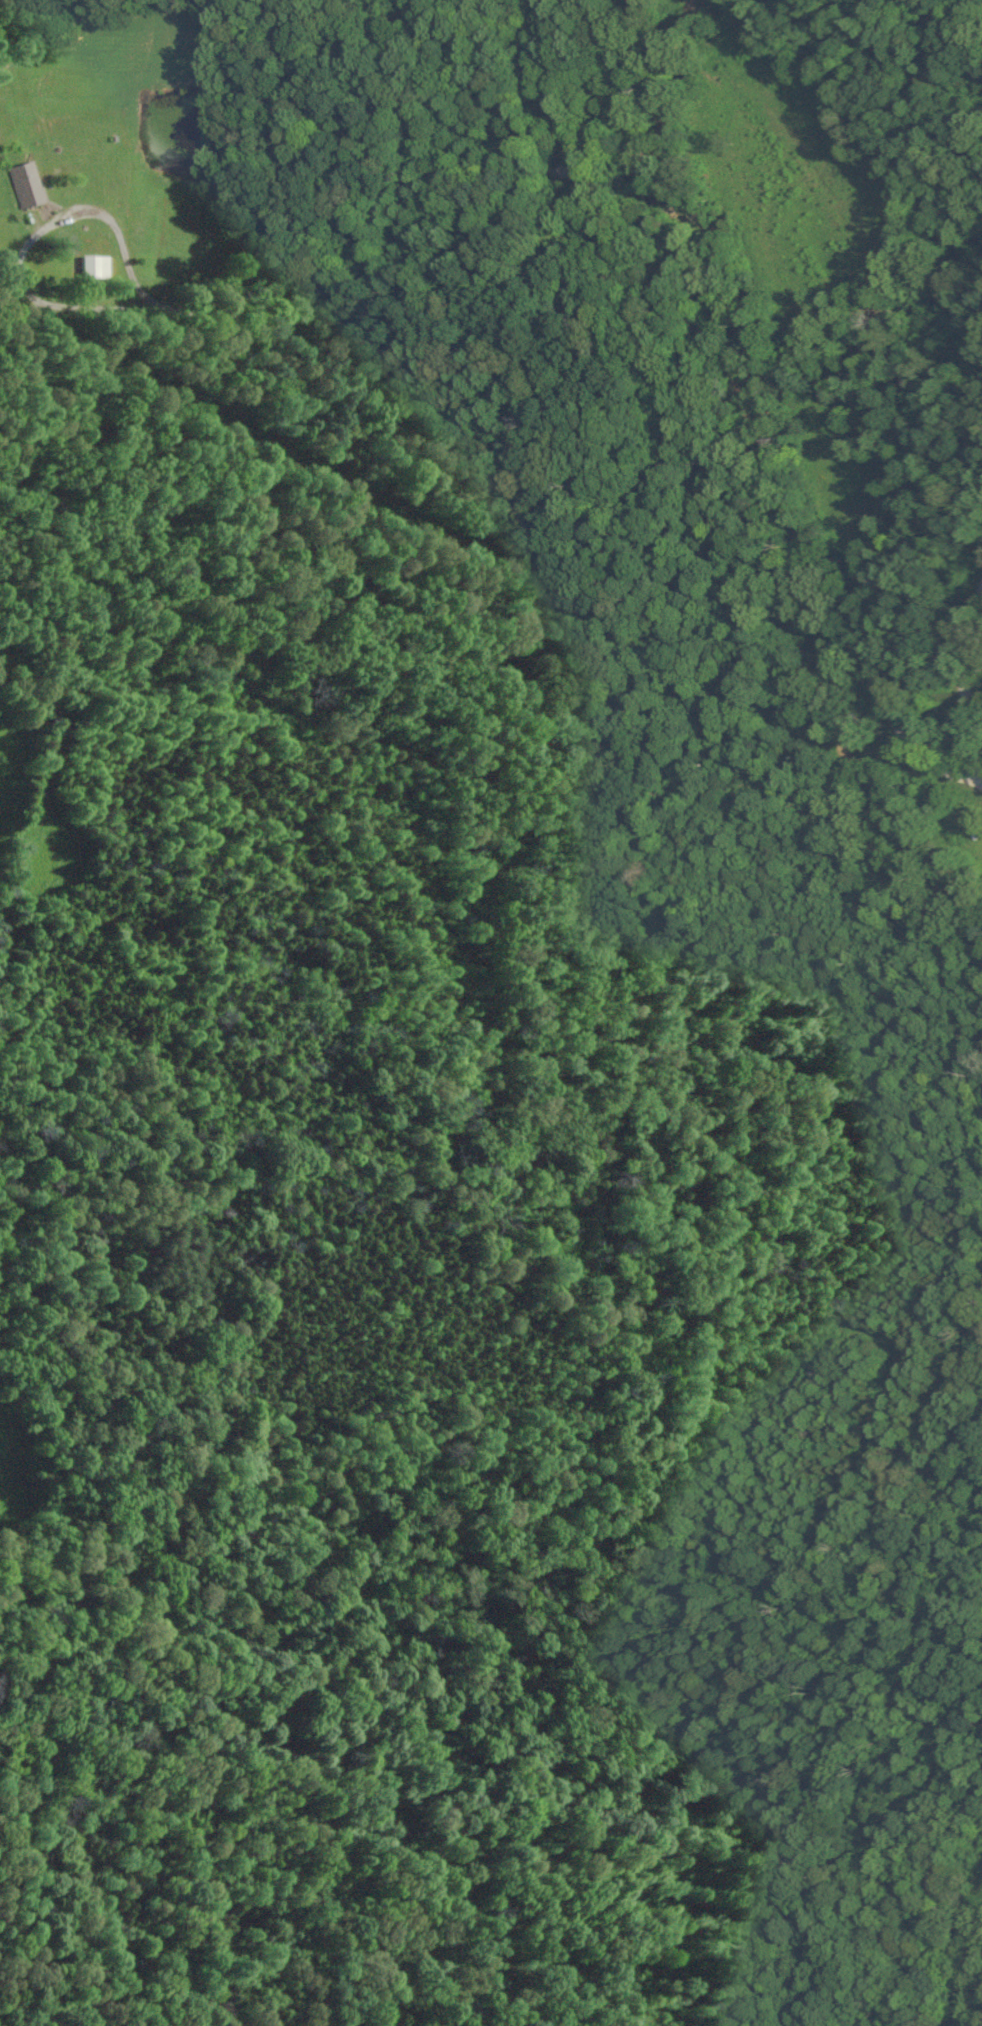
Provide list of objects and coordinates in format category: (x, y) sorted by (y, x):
building: (21, 185)
road: (280, 266)
building: (88, 267)
road: (709, 398)
road: (966, 688)

